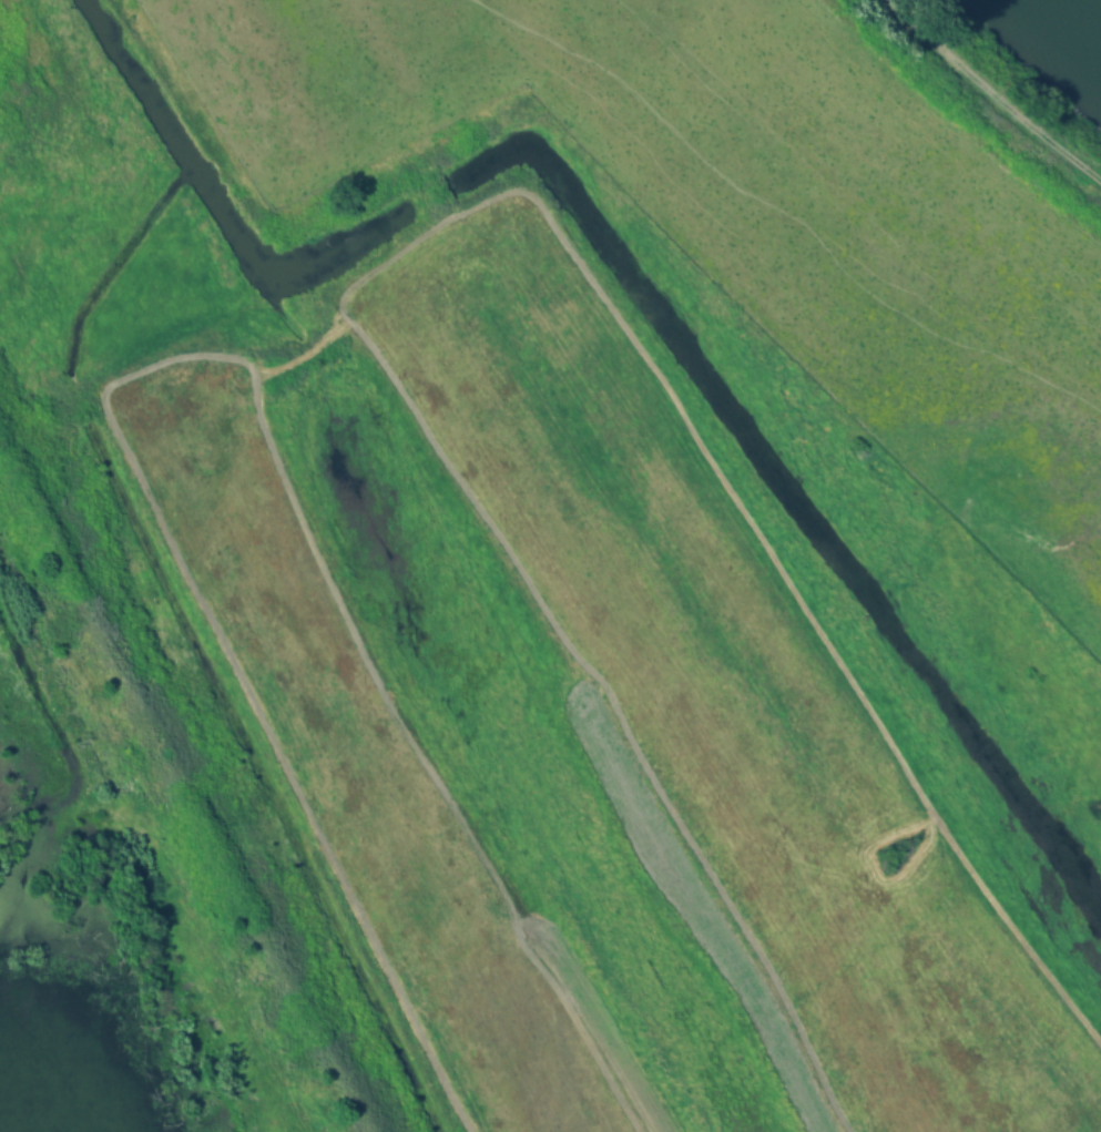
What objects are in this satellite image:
road: (993, 89)

